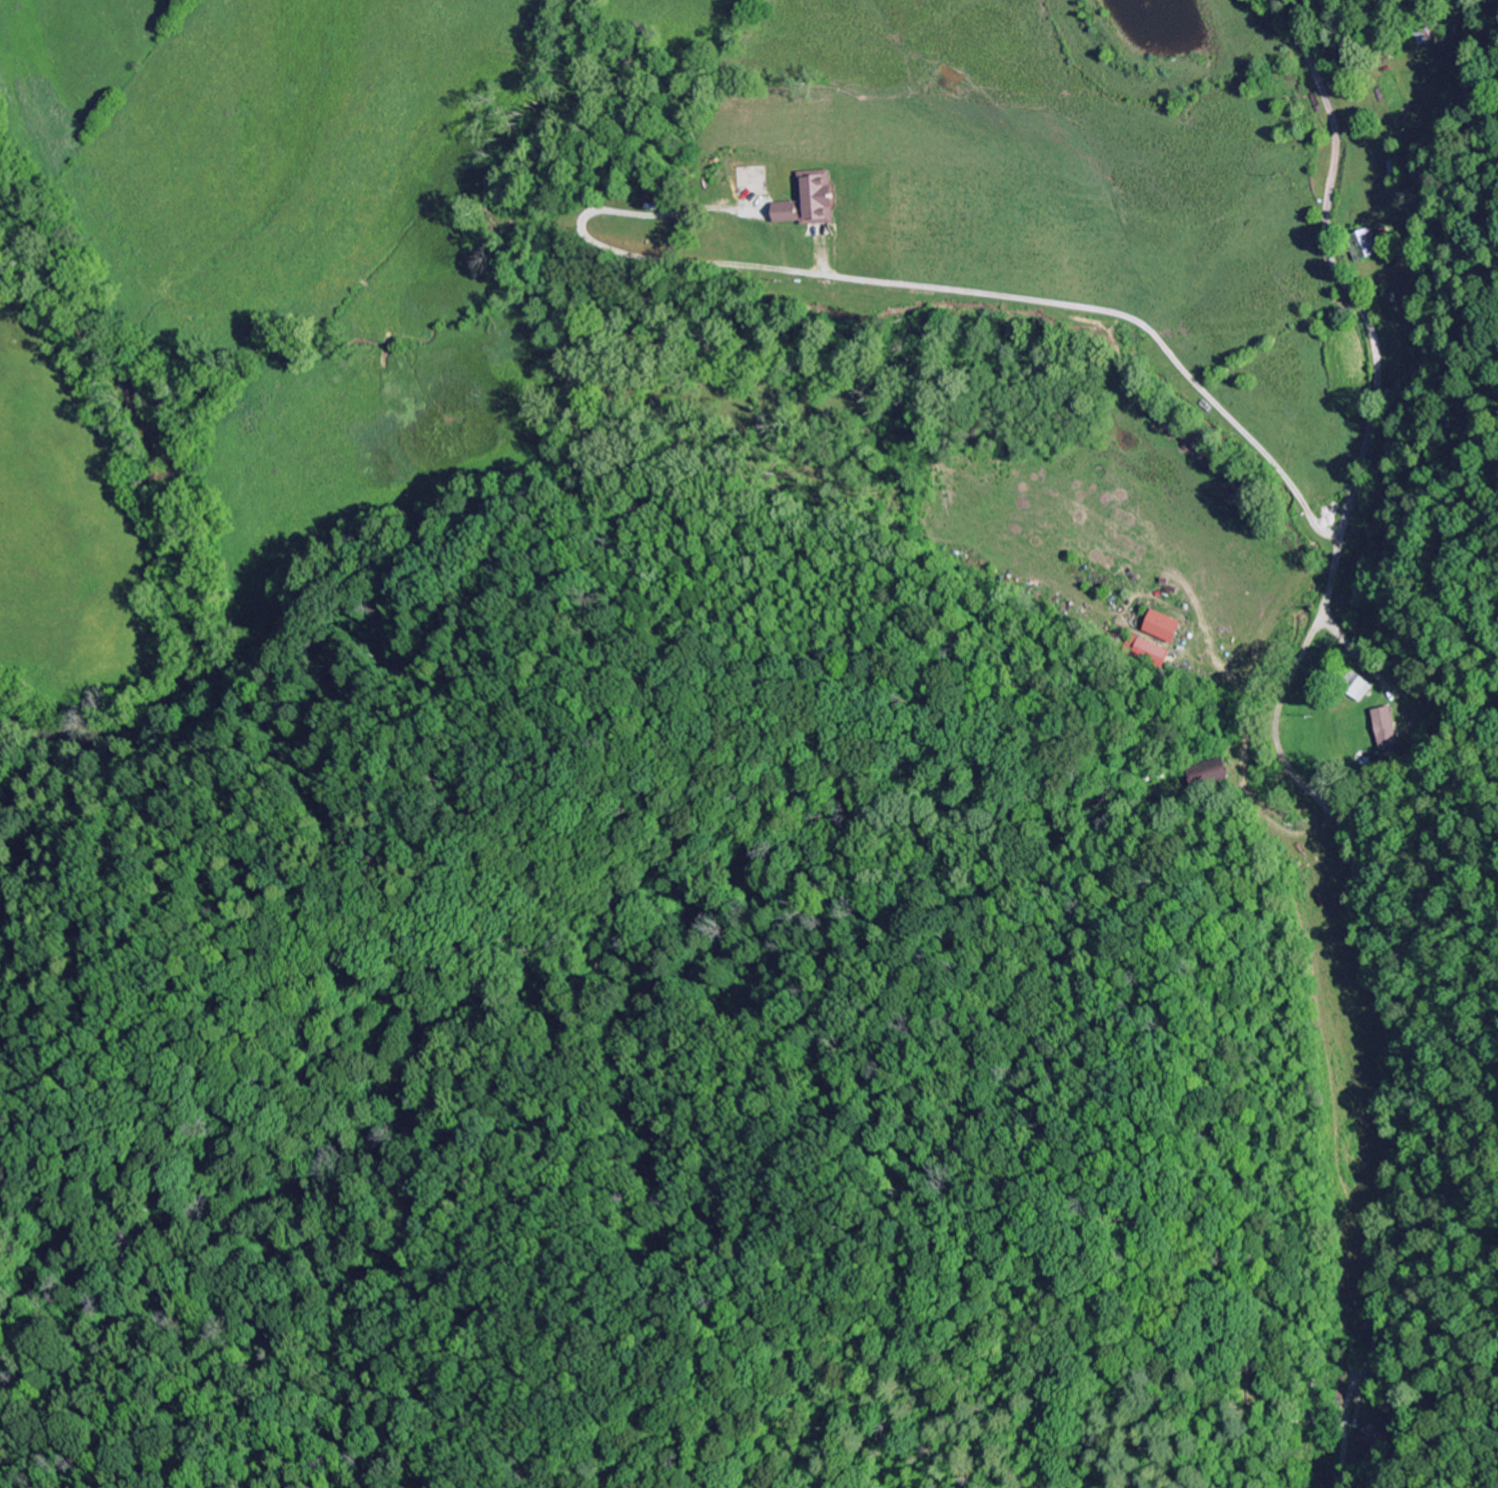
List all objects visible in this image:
building: (813, 206)
building: (1367, 245)
river: (188, 532)
road: (1336, 544)
building: (1161, 628)
building: (1149, 654)
building: (1358, 687)
building: (1388, 732)
building: (1378, 1438)

